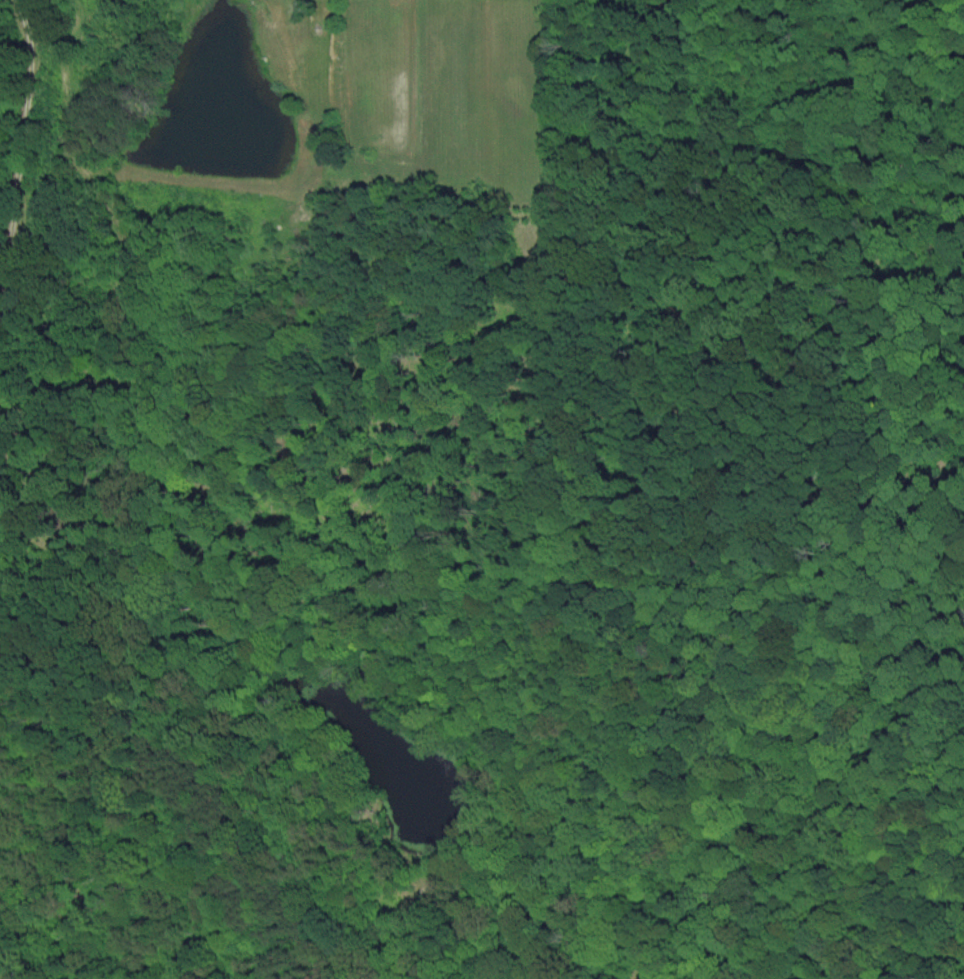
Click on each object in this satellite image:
road: (28, 180)

